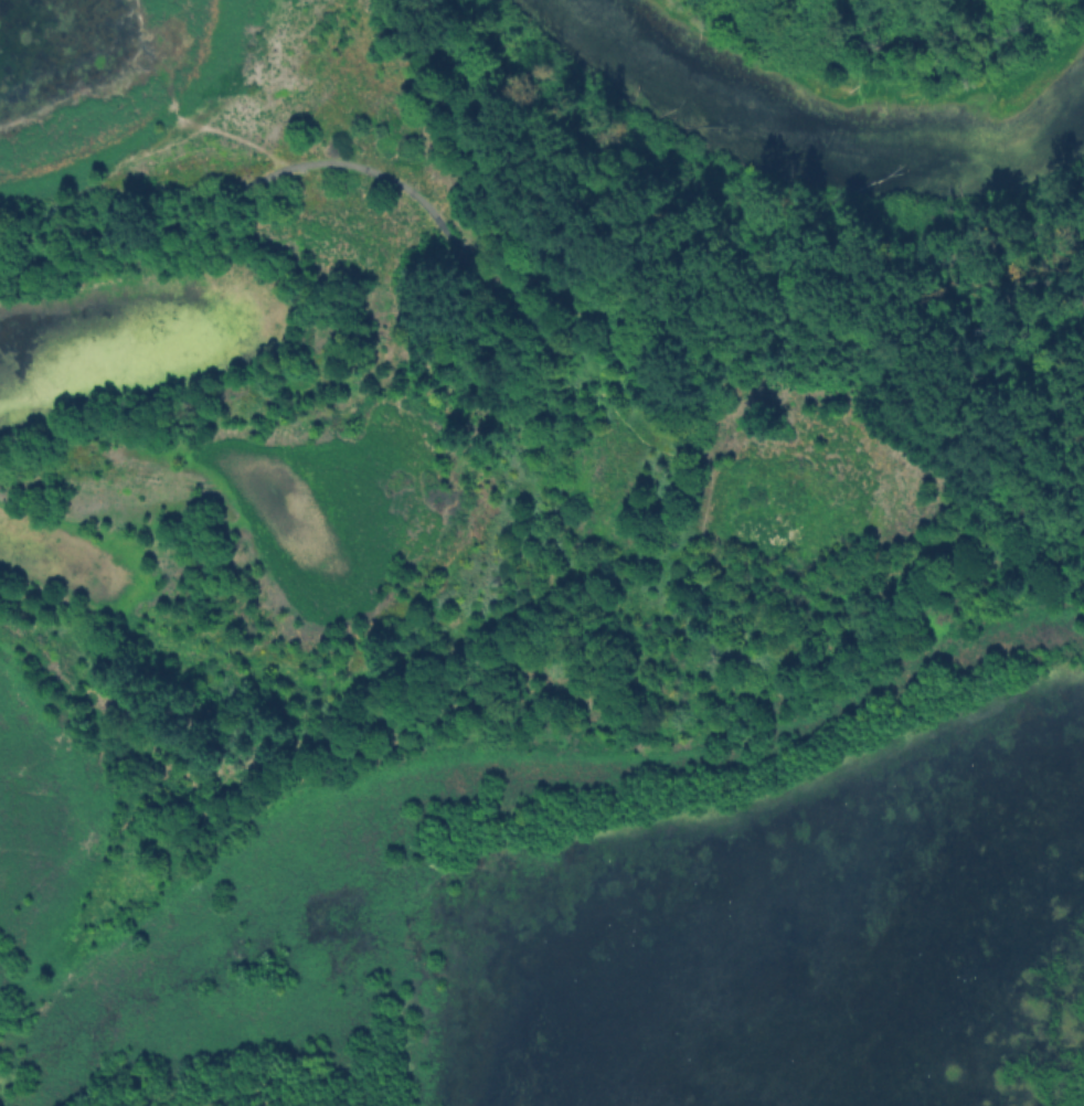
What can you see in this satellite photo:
road: (434, 212)
road: (986, 245)
road: (1028, 283)
road: (948, 397)

